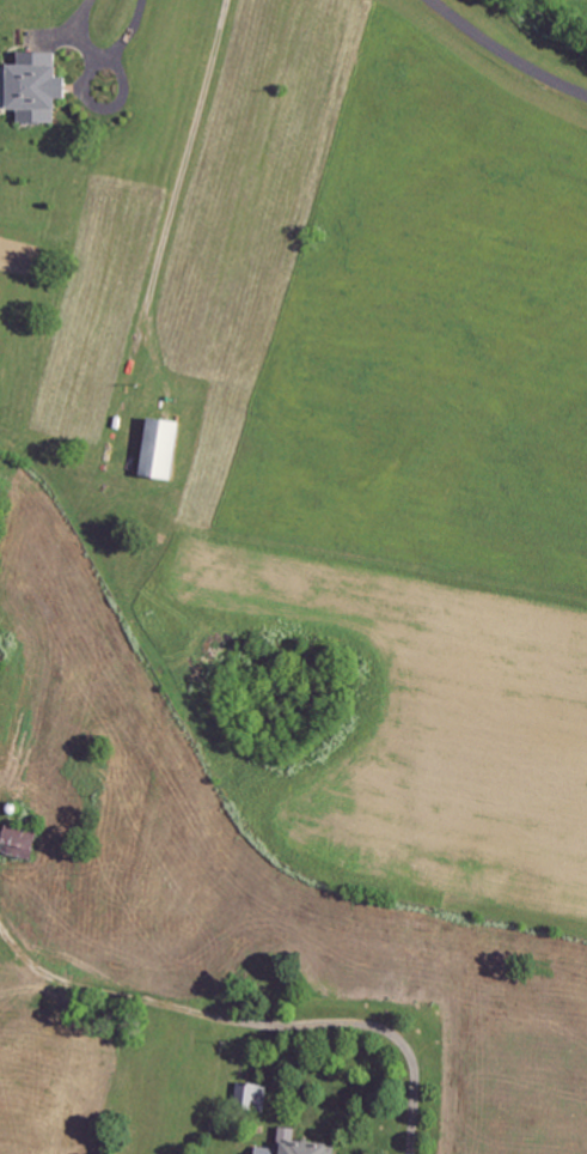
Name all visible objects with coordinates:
road: (104, 53)
road: (506, 53)
building: (47, 89)
road: (187, 177)
building: (171, 450)
building: (26, 844)
road: (245, 1025)
building: (256, 1097)
building: (311, 1146)
building: (271, 1152)

